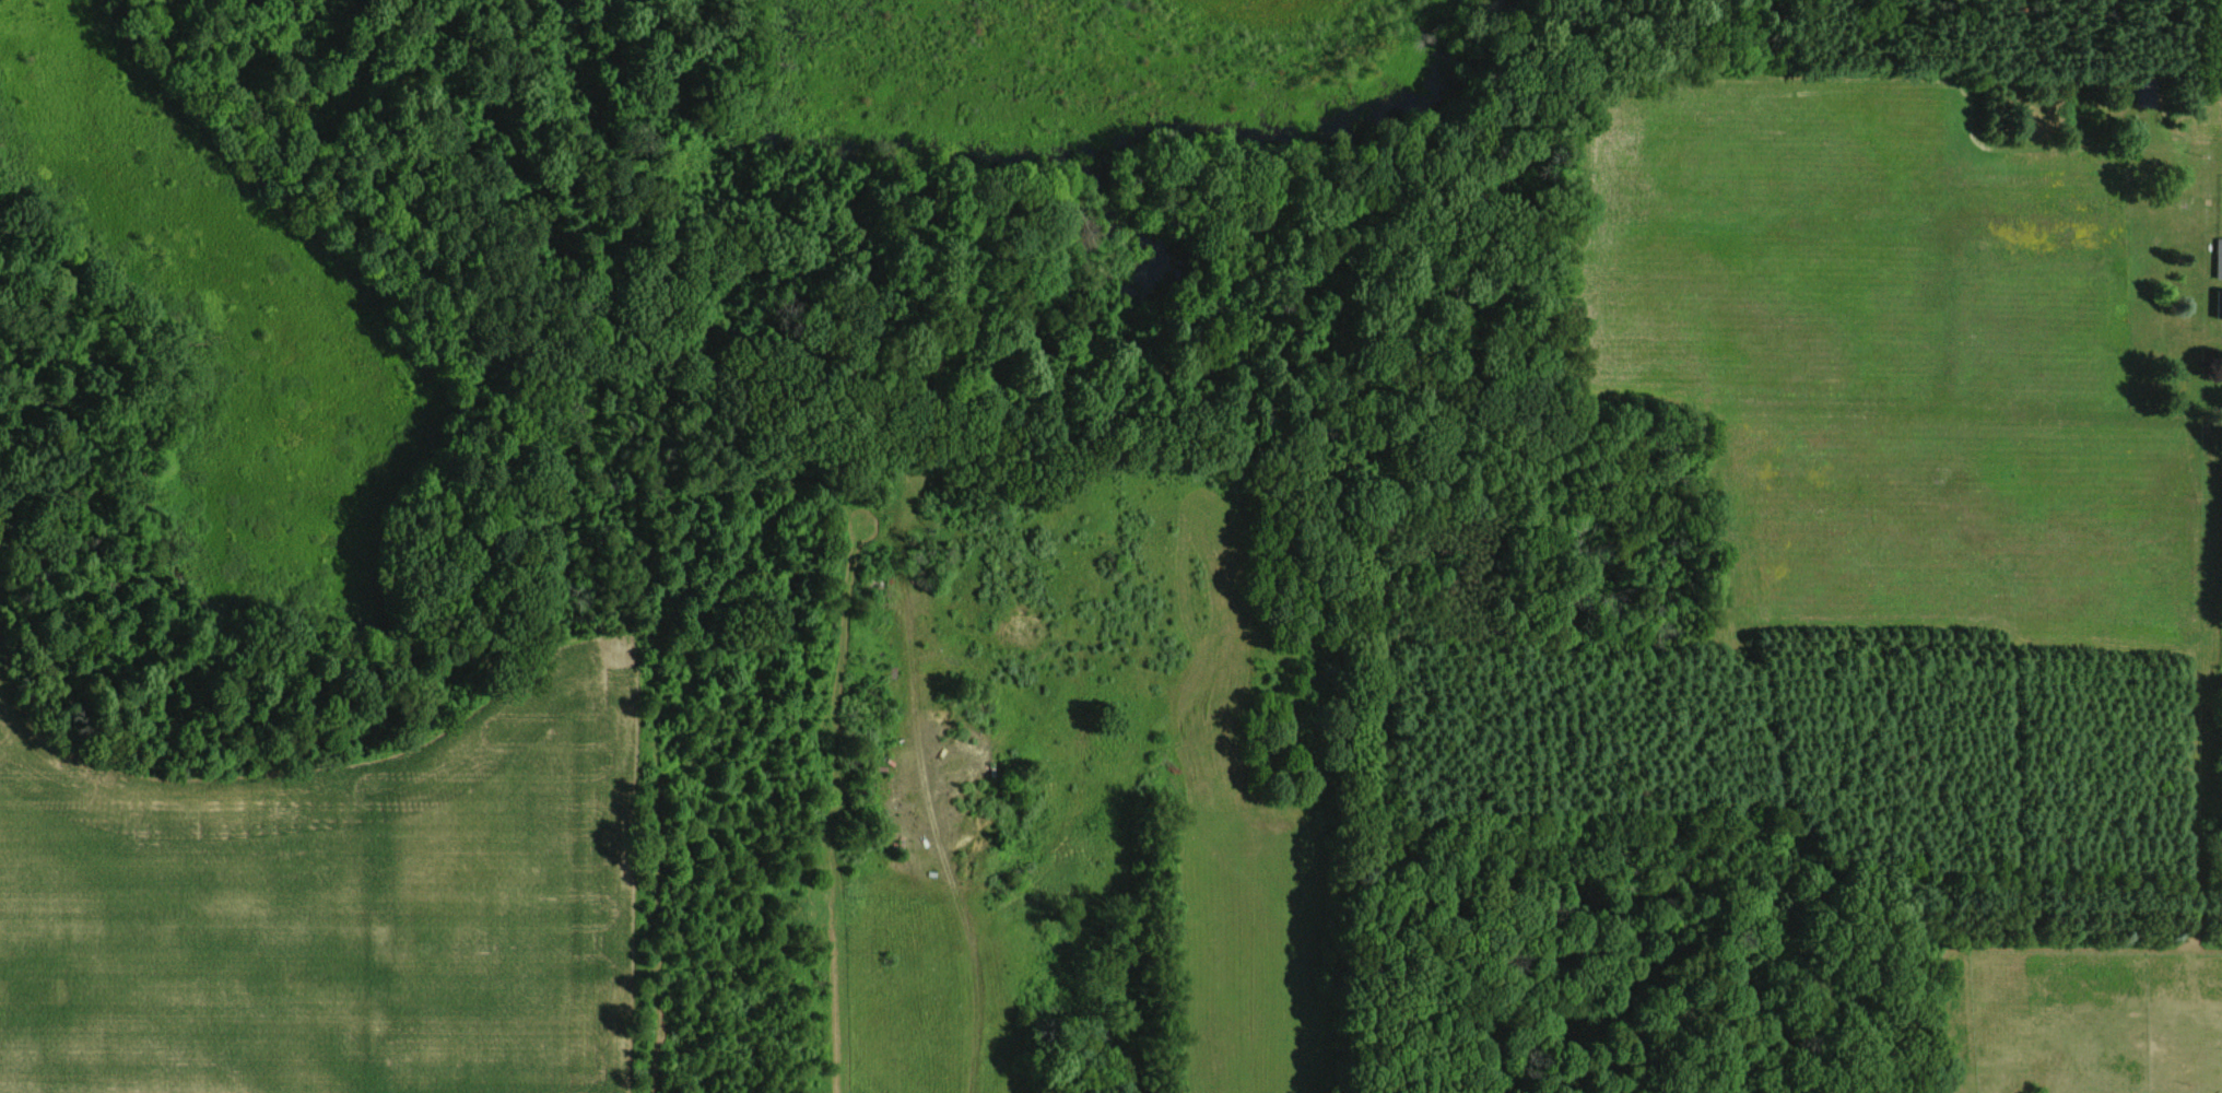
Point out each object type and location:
building: (2218, 258)

